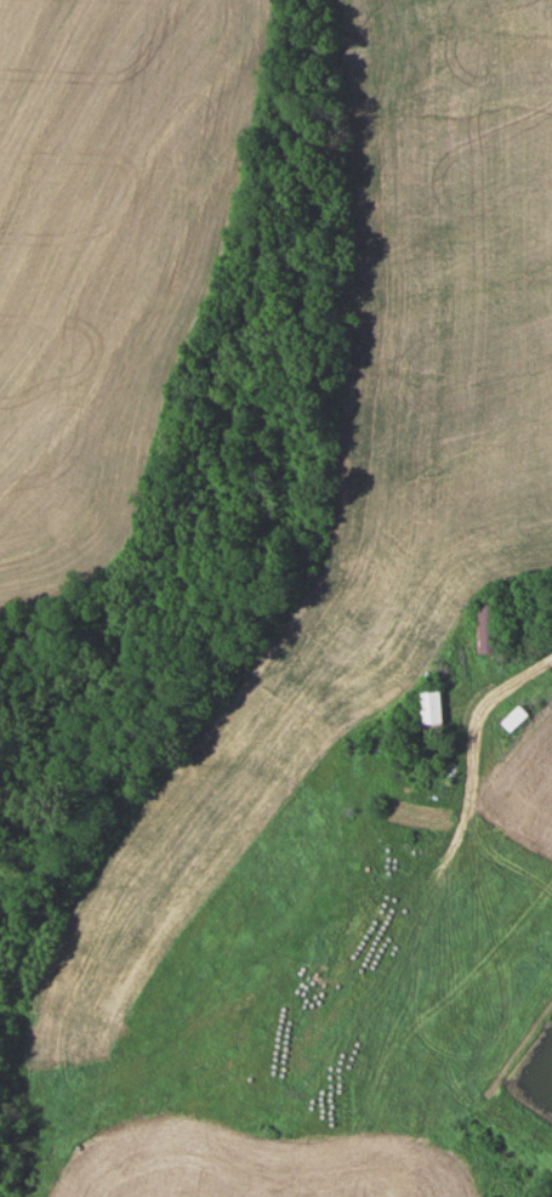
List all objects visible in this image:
building: (488, 628)
building: (429, 707)
building: (513, 719)
road: (478, 724)

